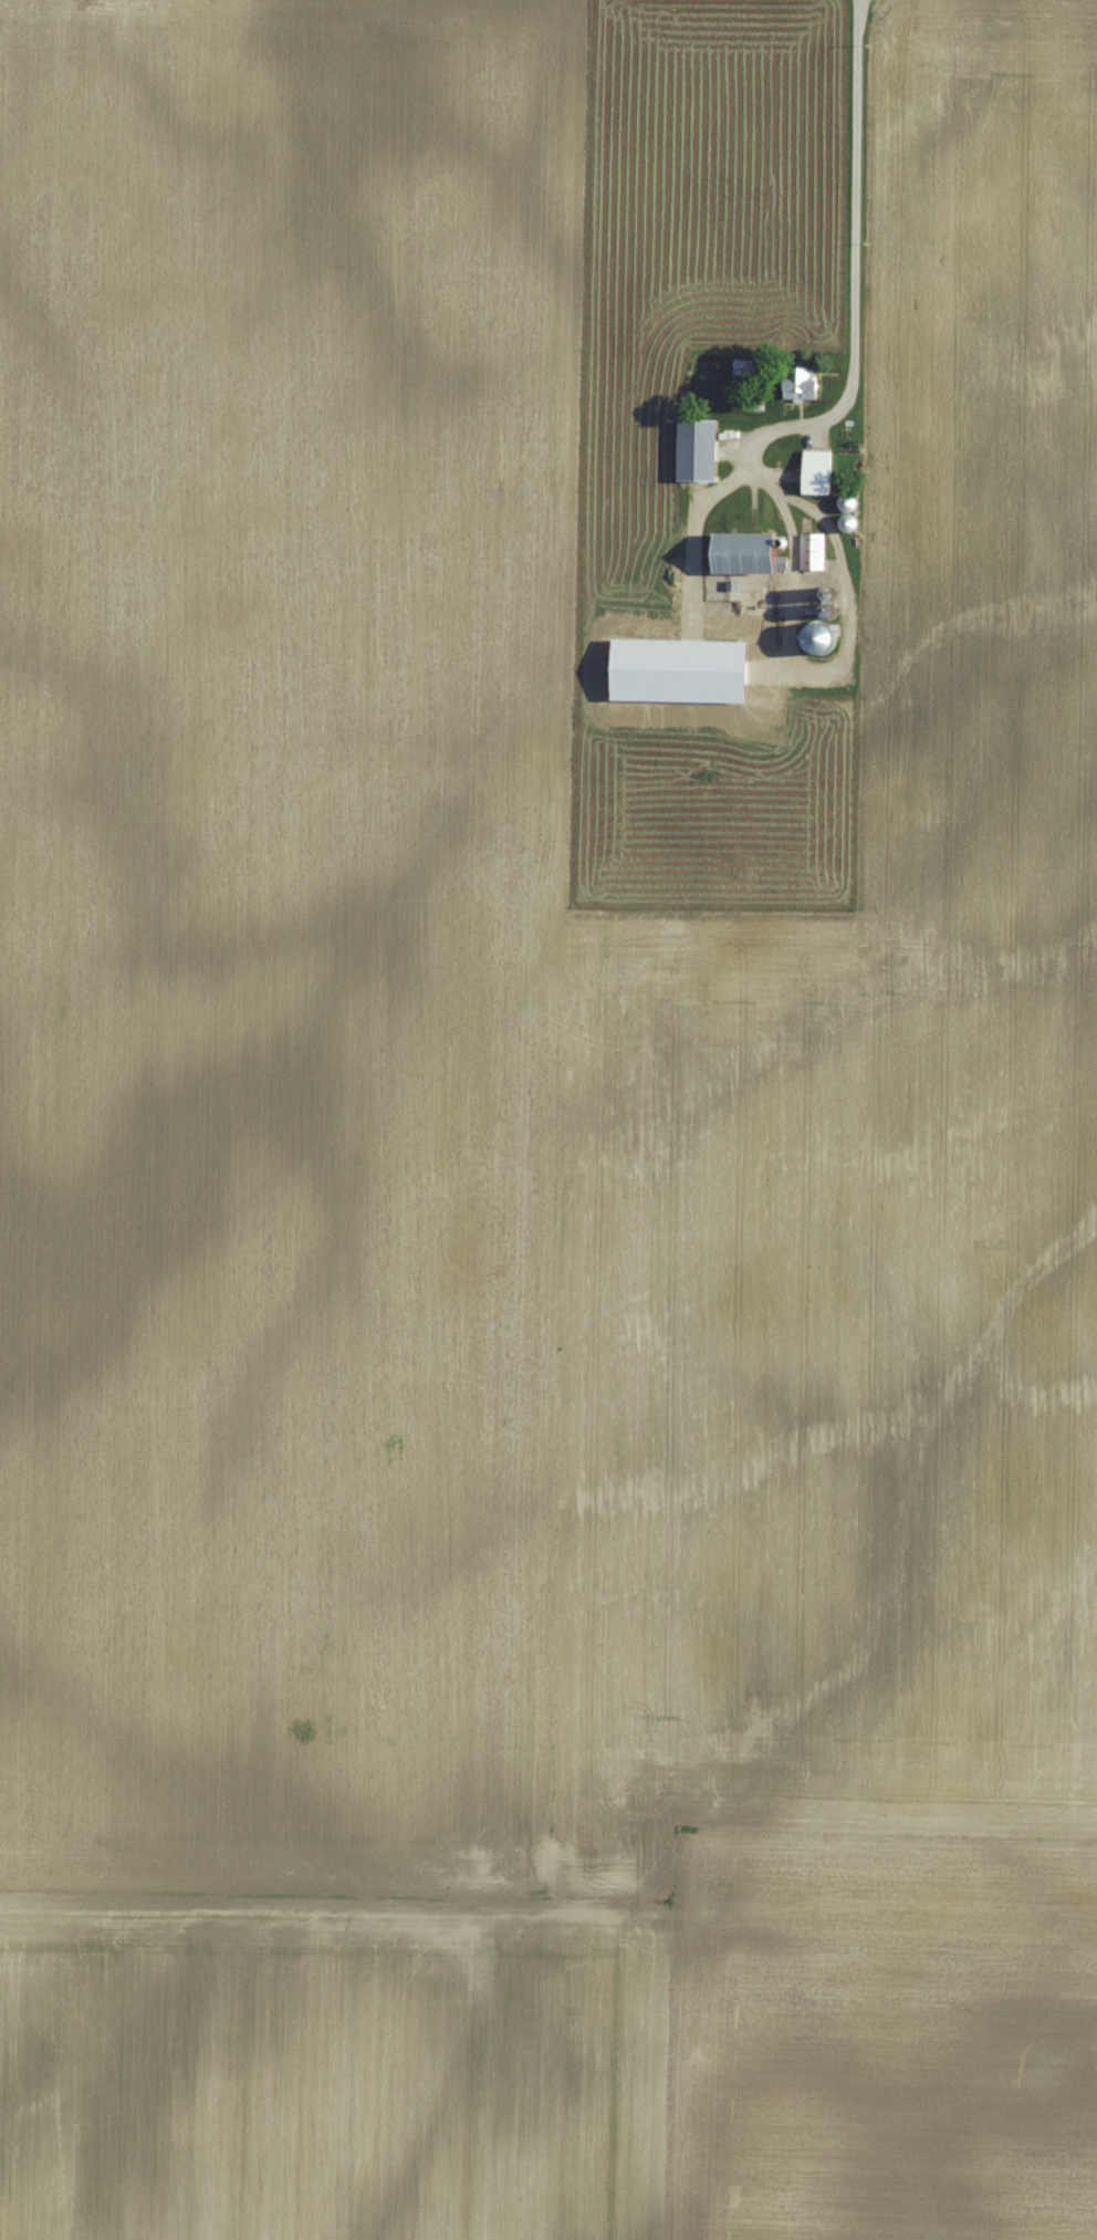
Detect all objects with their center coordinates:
road: (852, 228)

